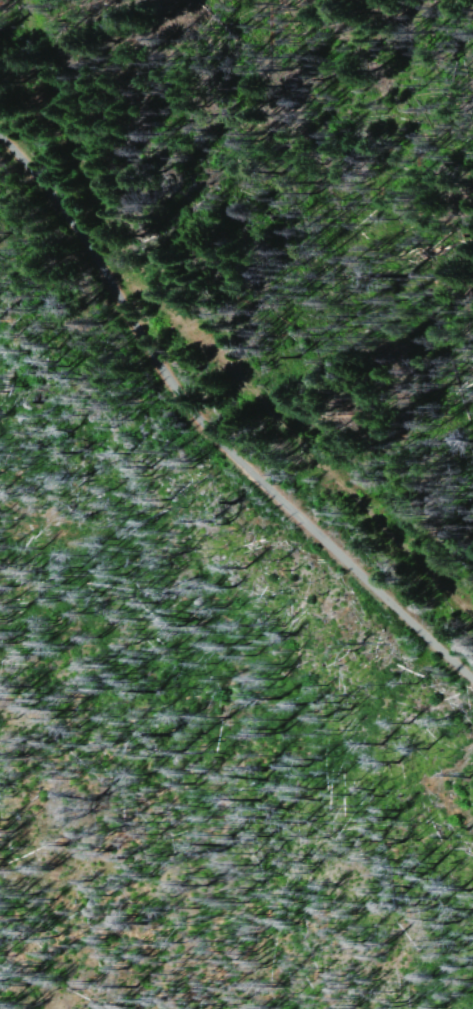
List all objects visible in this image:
road: (224, 423)

